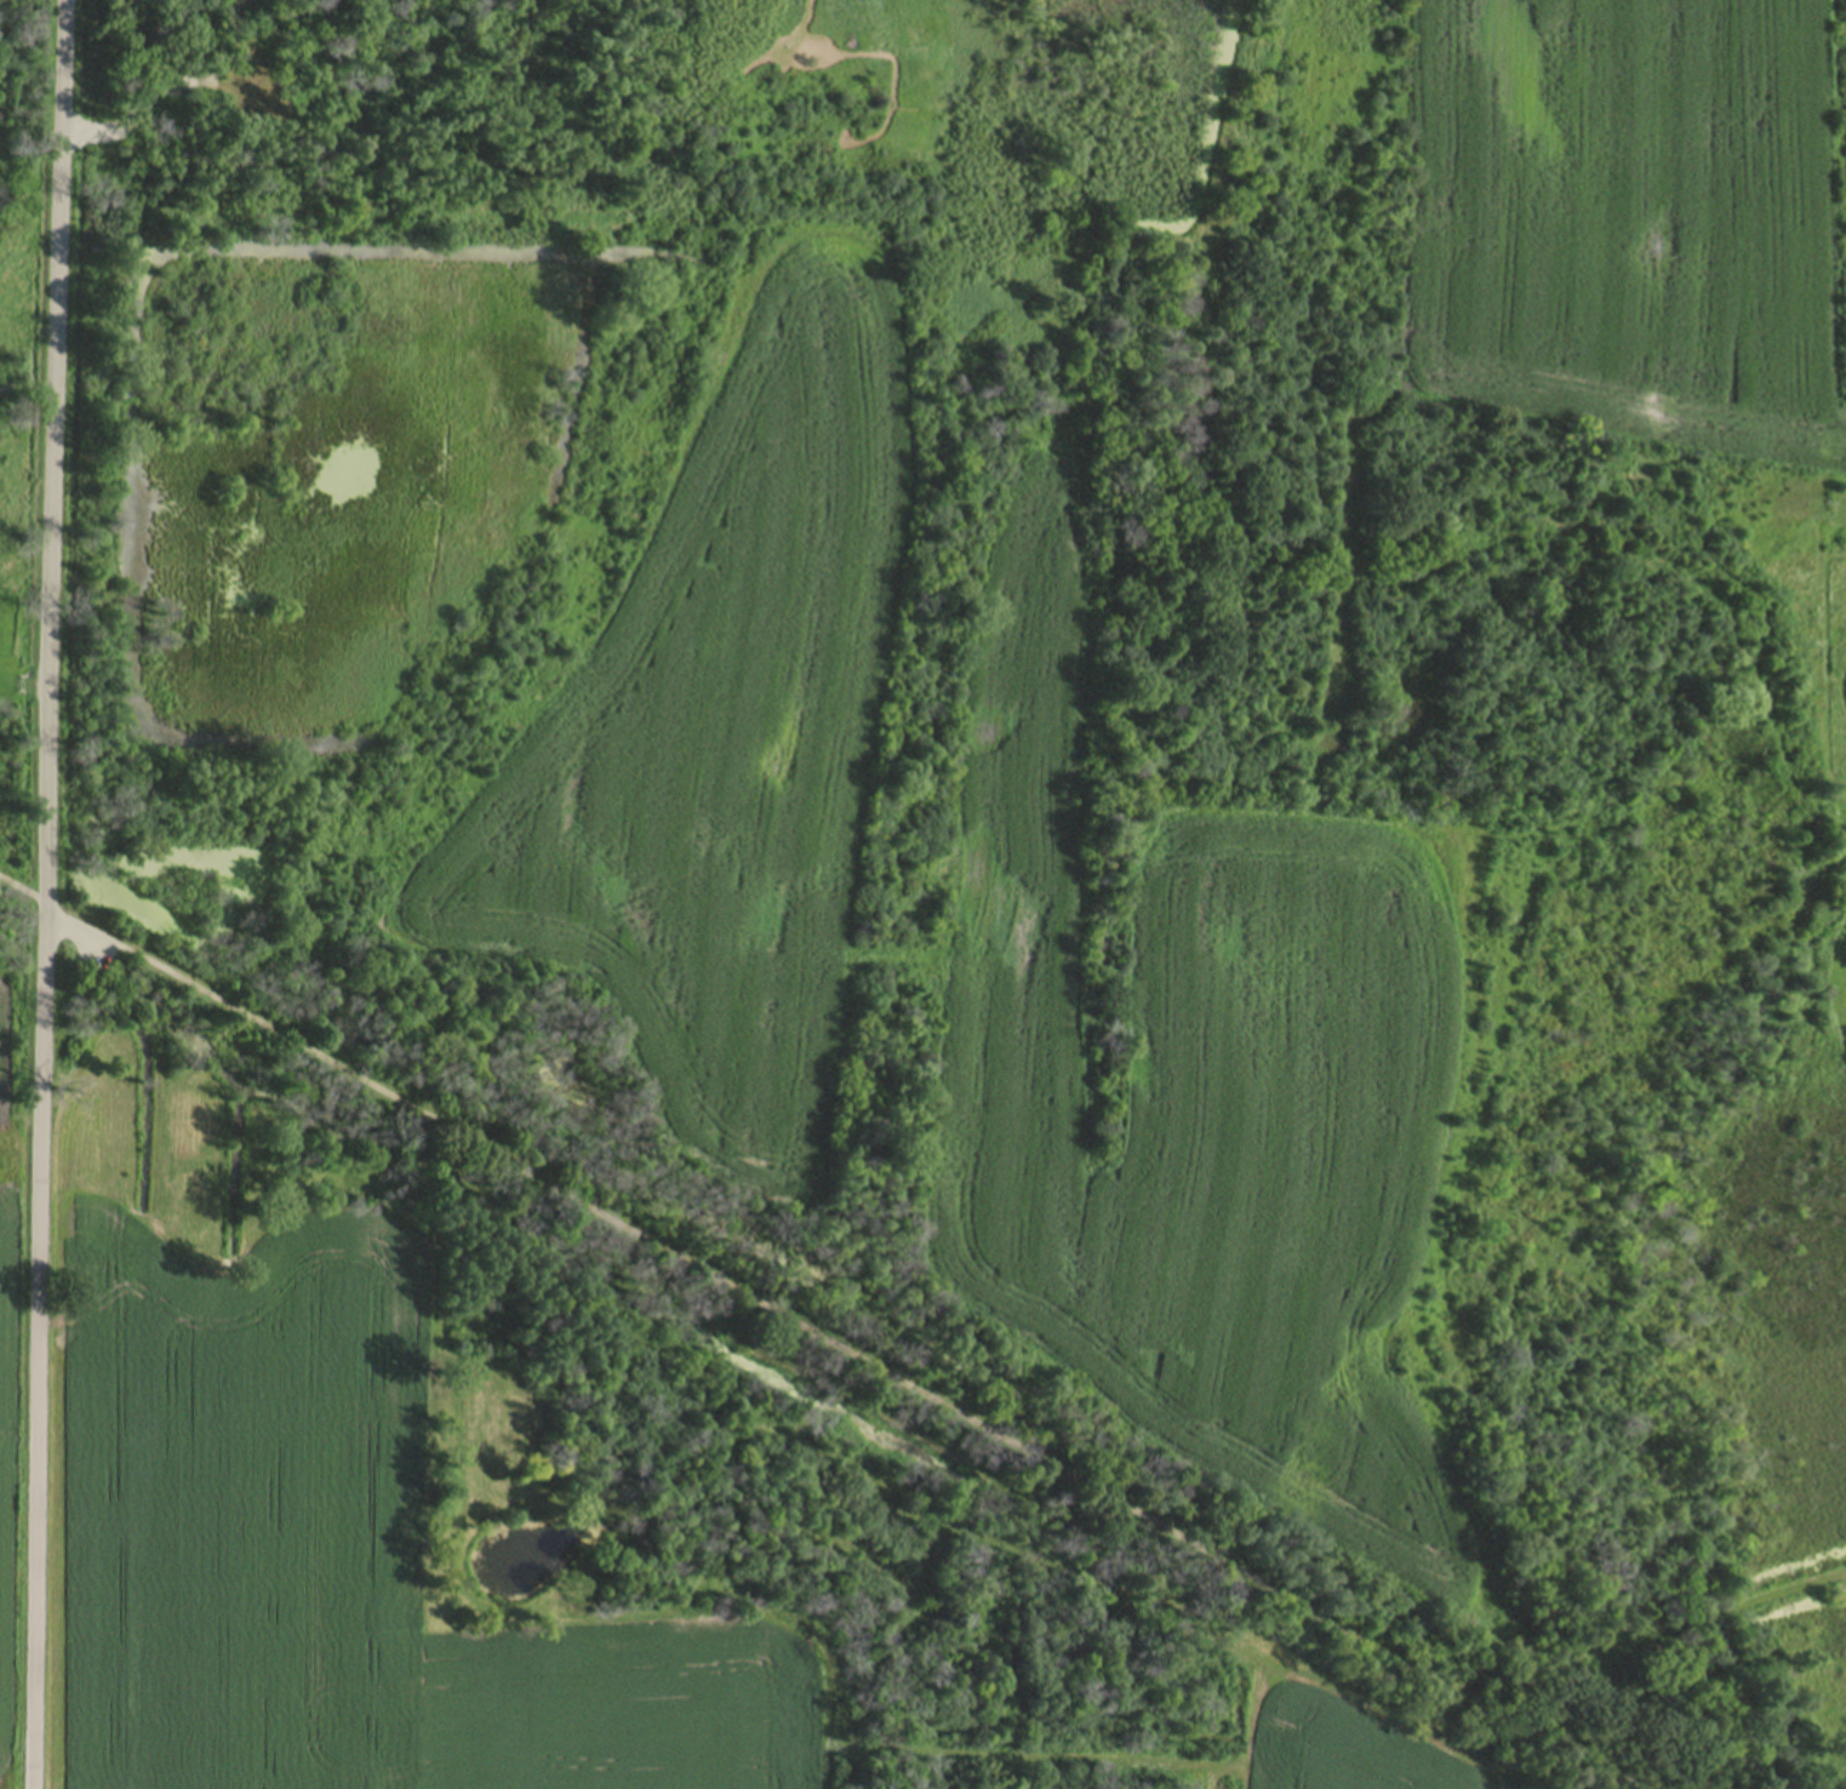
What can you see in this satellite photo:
road: (45, 893)
road: (815, 1337)

